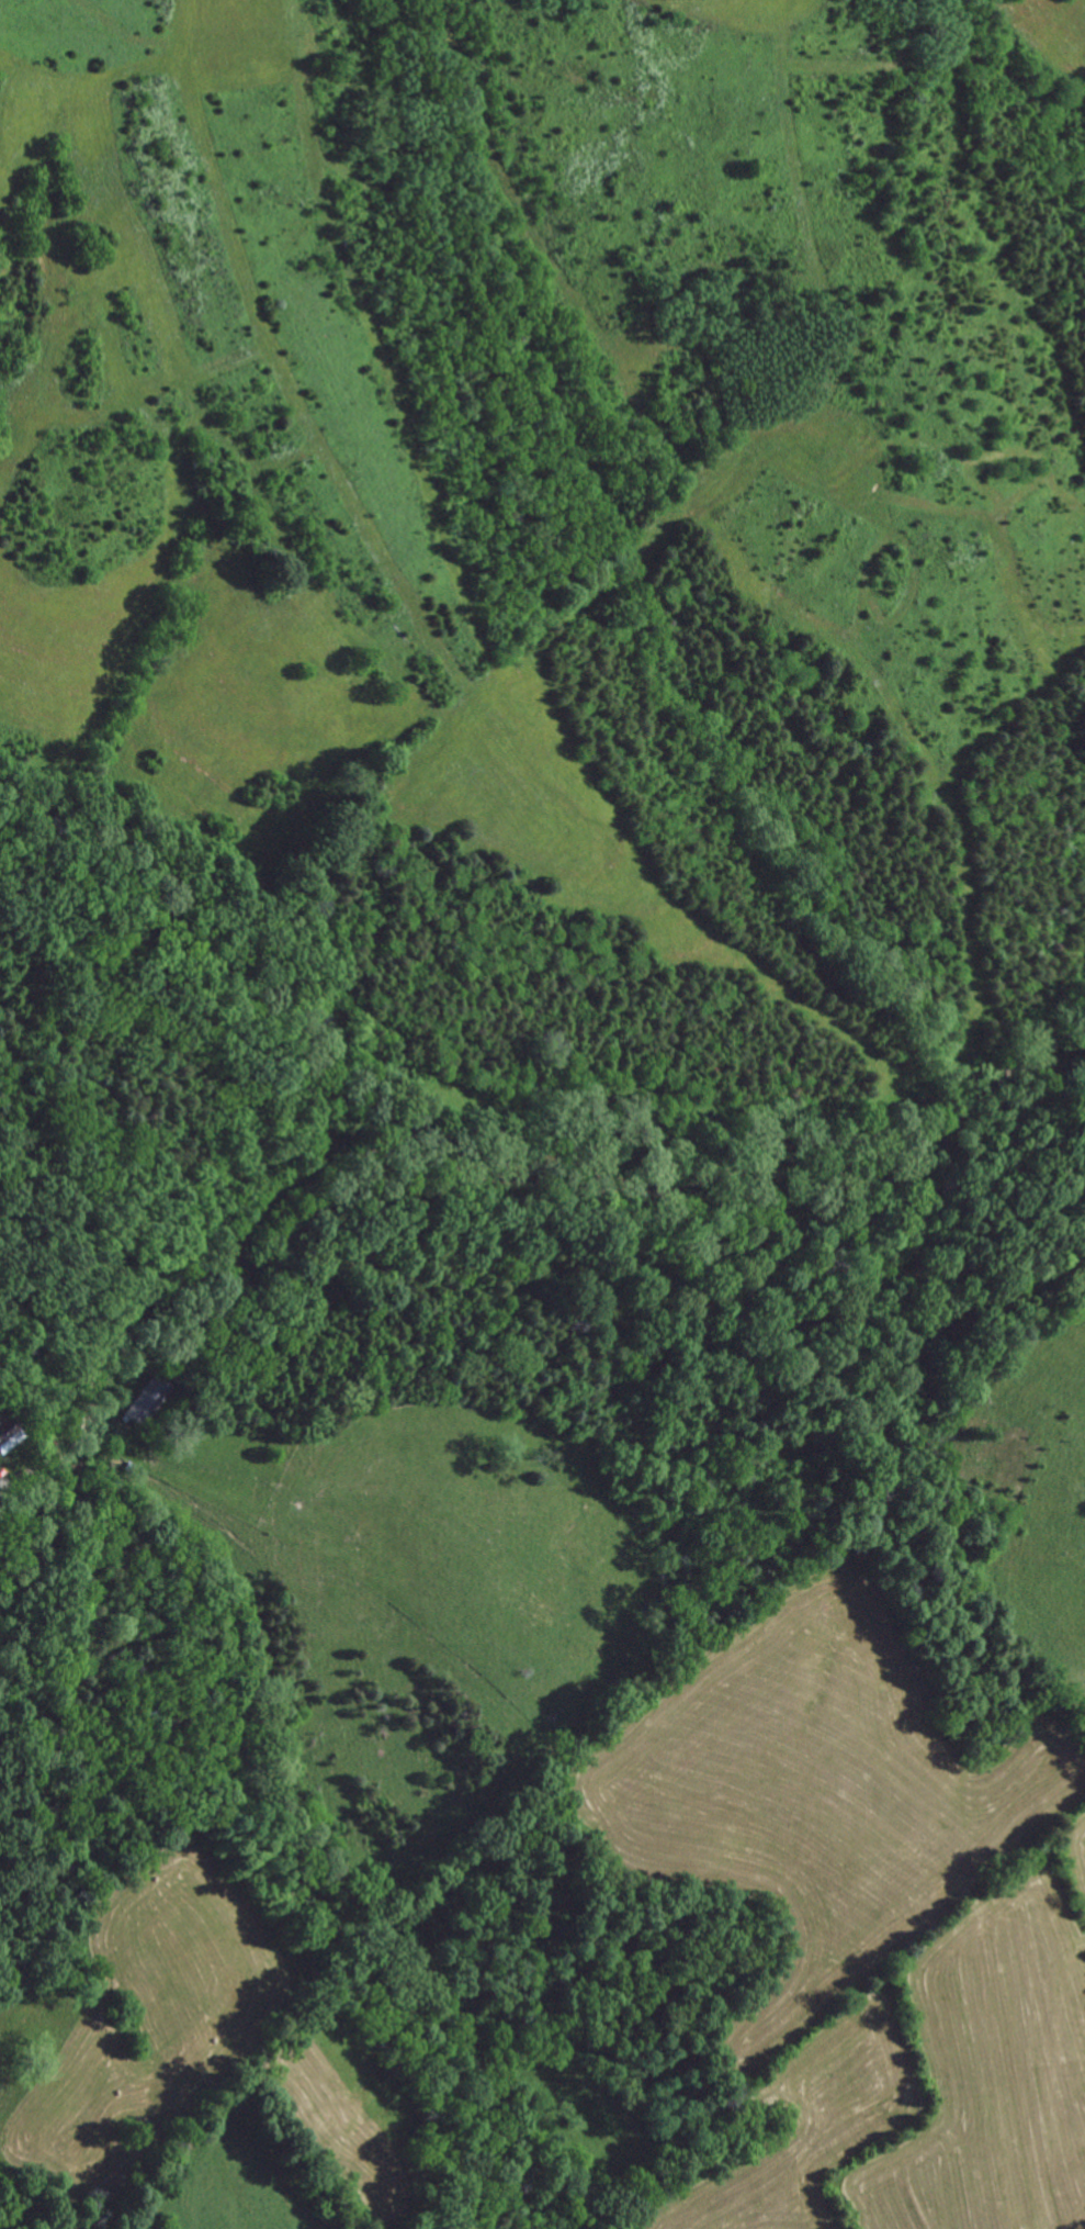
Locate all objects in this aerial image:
building: (147, 1397)

